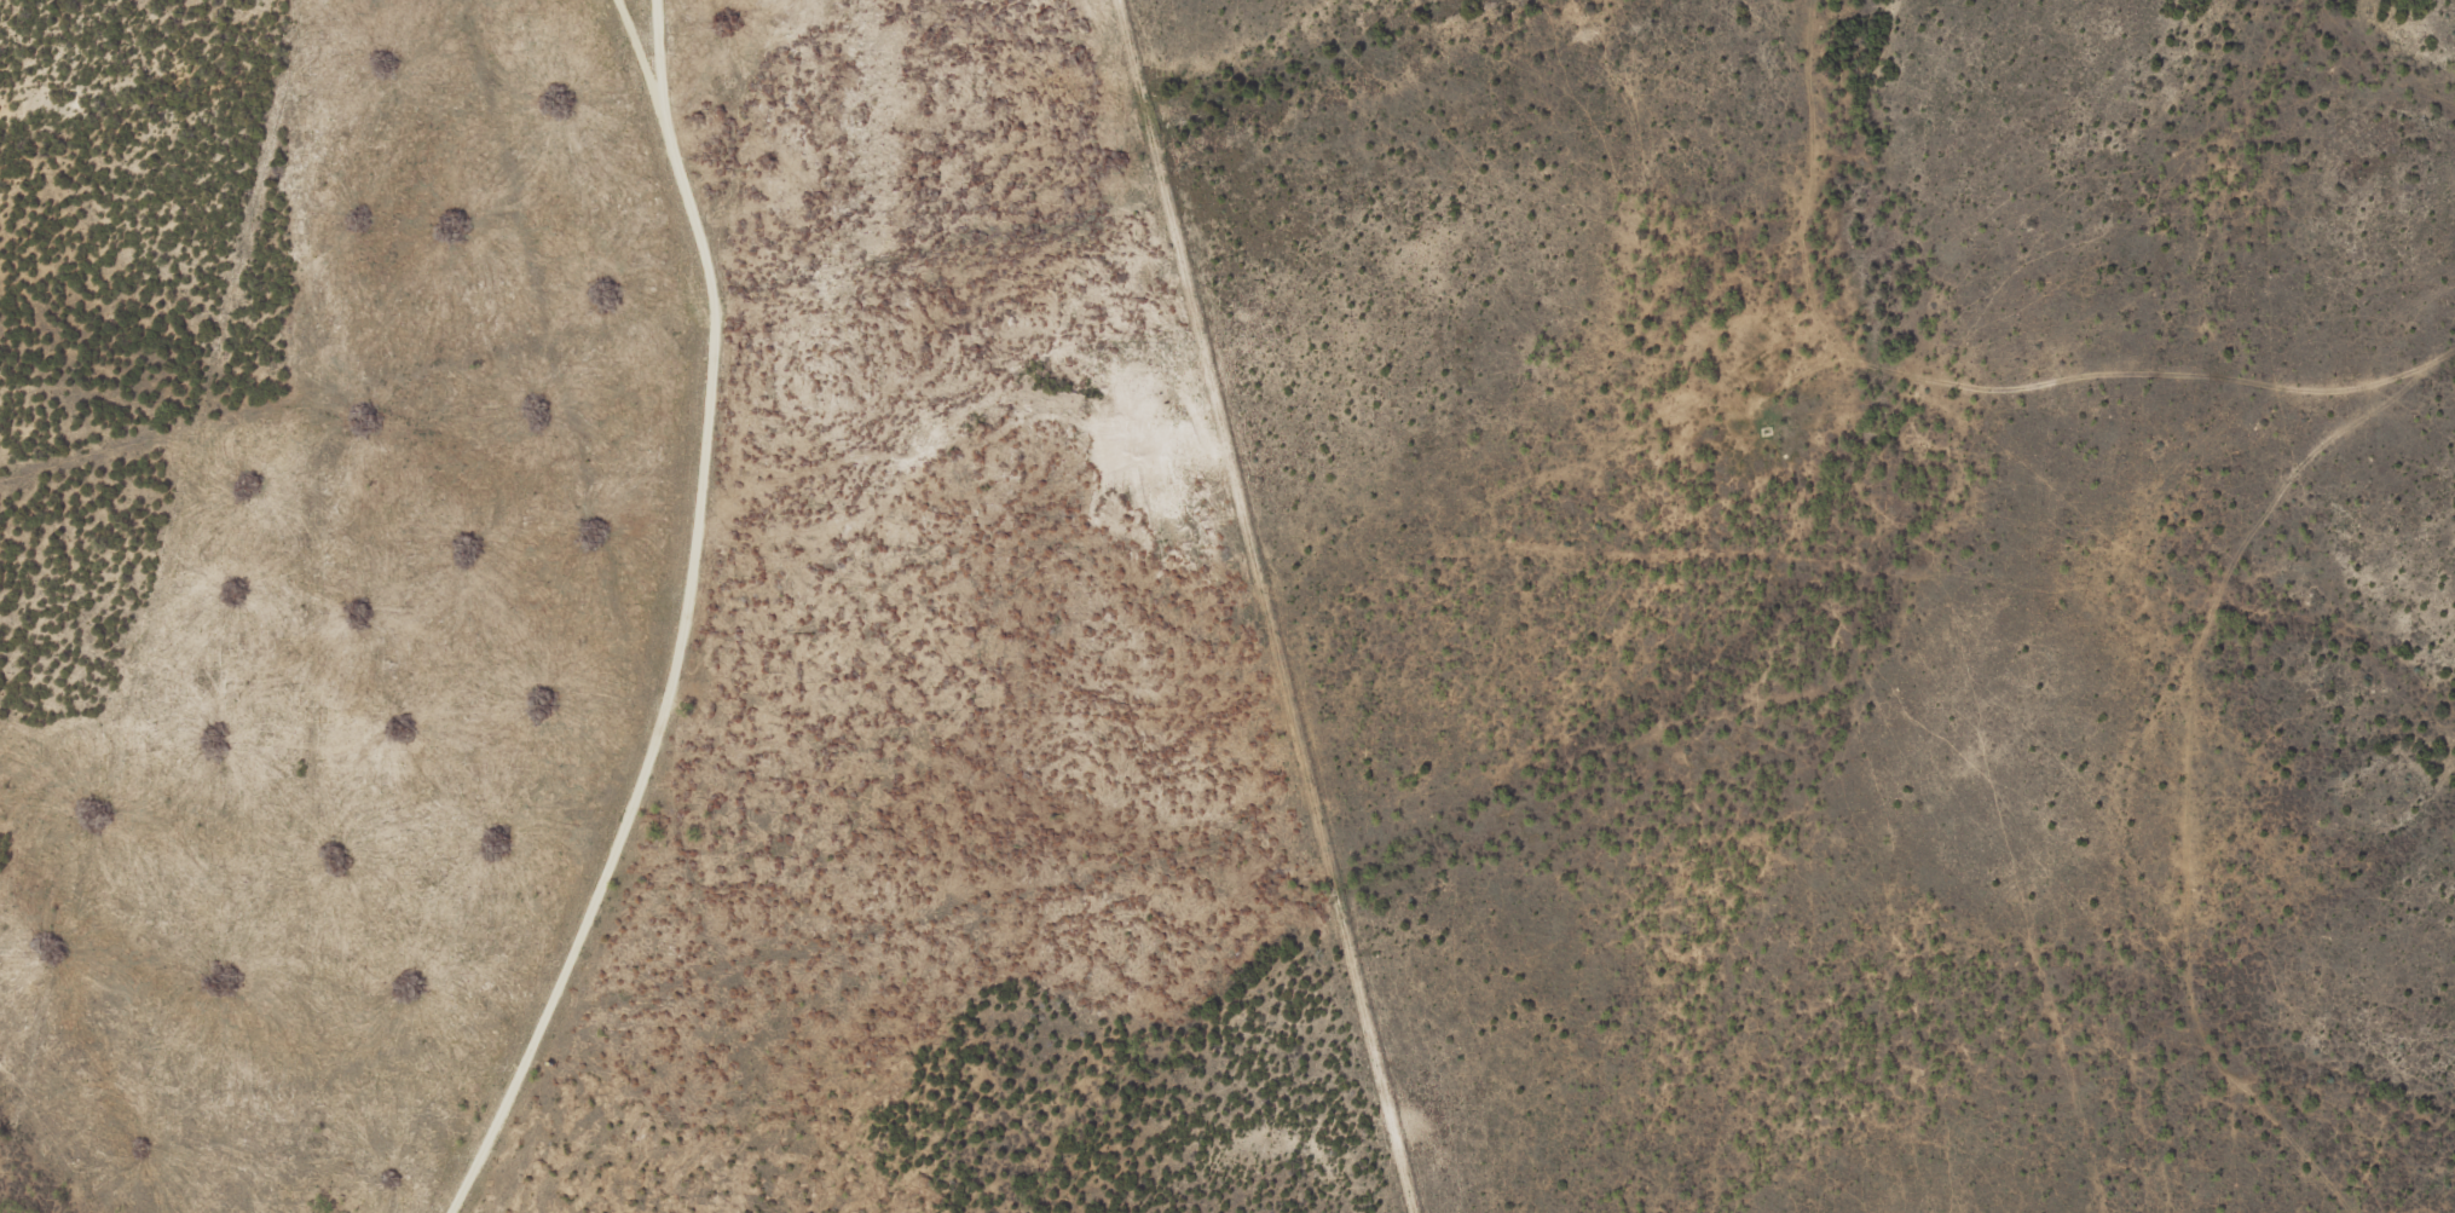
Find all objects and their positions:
road: (1970, 394)

